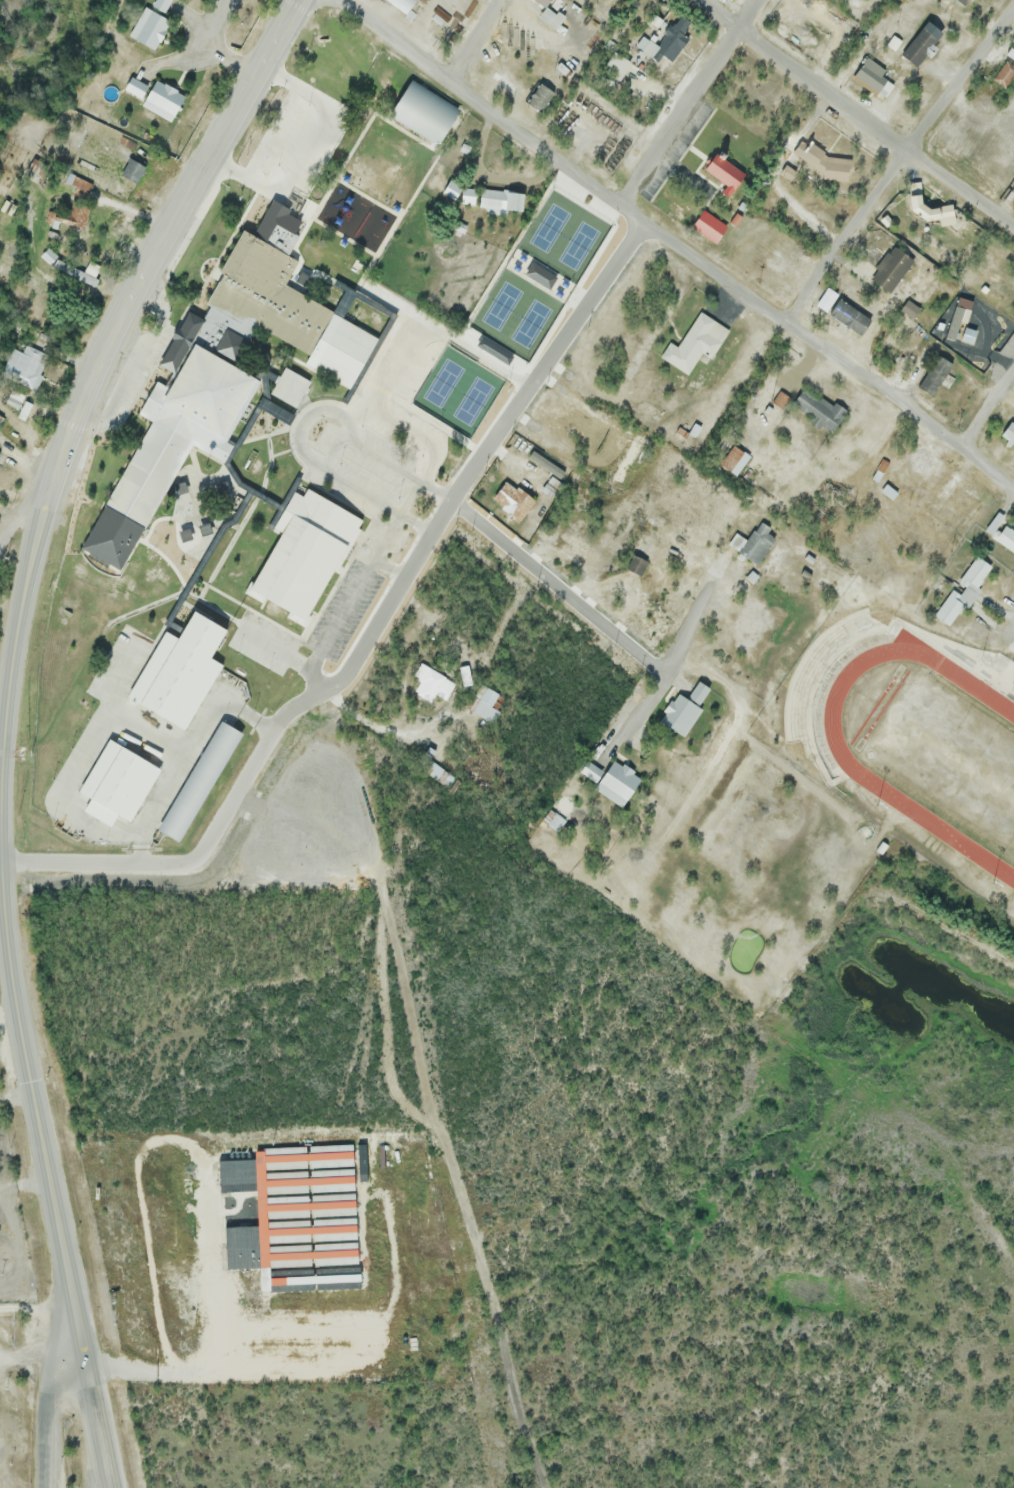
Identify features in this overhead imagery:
building: (729, 0)
building: (965, 1)
building: (544, 2)
building: (162, 5)
building: (403, 5)
building: (552, 18)
building: (655, 19)
building: (150, 27)
road: (470, 40)
building: (667, 40)
building: (922, 43)
river: (47, 46)
road: (211, 51)
building: (1011, 51)
building: (486, 58)
building: (619, 62)
road: (185, 63)
building: (1005, 74)
building: (873, 76)
building: (501, 83)
building: (137, 87)
building: (542, 96)
building: (164, 100)
road: (688, 102)
building: (425, 113)
road: (855, 114)
building: (281, 149)
building: (465, 149)
building: (826, 162)
road: (898, 165)
building: (134, 170)
building: (725, 172)
building: (788, 173)
building: (77, 182)
building: (453, 188)
building: (916, 192)
building: (469, 196)
building: (501, 199)
building: (710, 225)
road: (674, 247)
building: (48, 255)
building: (555, 266)
building: (892, 270)
building: (81, 271)
building: (541, 274)
building: (911, 308)
building: (279, 314)
building: (850, 315)
building: (961, 323)
building: (695, 343)
road: (544, 362)
building: (27, 367)
building: (935, 375)
park: (456, 394)
building: (819, 407)
road: (988, 410)
building: (1009, 433)
building: (170, 445)
building: (432, 454)
building: (0, 456)
building: (0, 460)
building: (735, 460)
building: (547, 464)
building: (902, 478)
building: (555, 481)
building: (550, 490)
building: (889, 491)
building: (509, 502)
building: (191, 510)
building: (389, 519)
road: (16, 528)
building: (1007, 537)
building: (756, 543)
building: (305, 551)
building: (636, 563)
building: (975, 571)
road: (585, 604)
building: (949, 608)
road: (19, 626)
road: (1013, 644)
building: (178, 670)
building: (465, 675)
building: (431, 682)
building: (487, 705)
building: (685, 709)
road: (388, 733)
stadium: (909, 737)
track: (932, 747)
road: (266, 750)
park: (954, 757)
building: (438, 774)
building: (199, 780)
building: (117, 782)
building: (618, 783)
building: (552, 820)
road: (2, 833)
building: (300, 1217)
road: (37, 1311)
road: (48, 1397)
road: (93, 1399)

